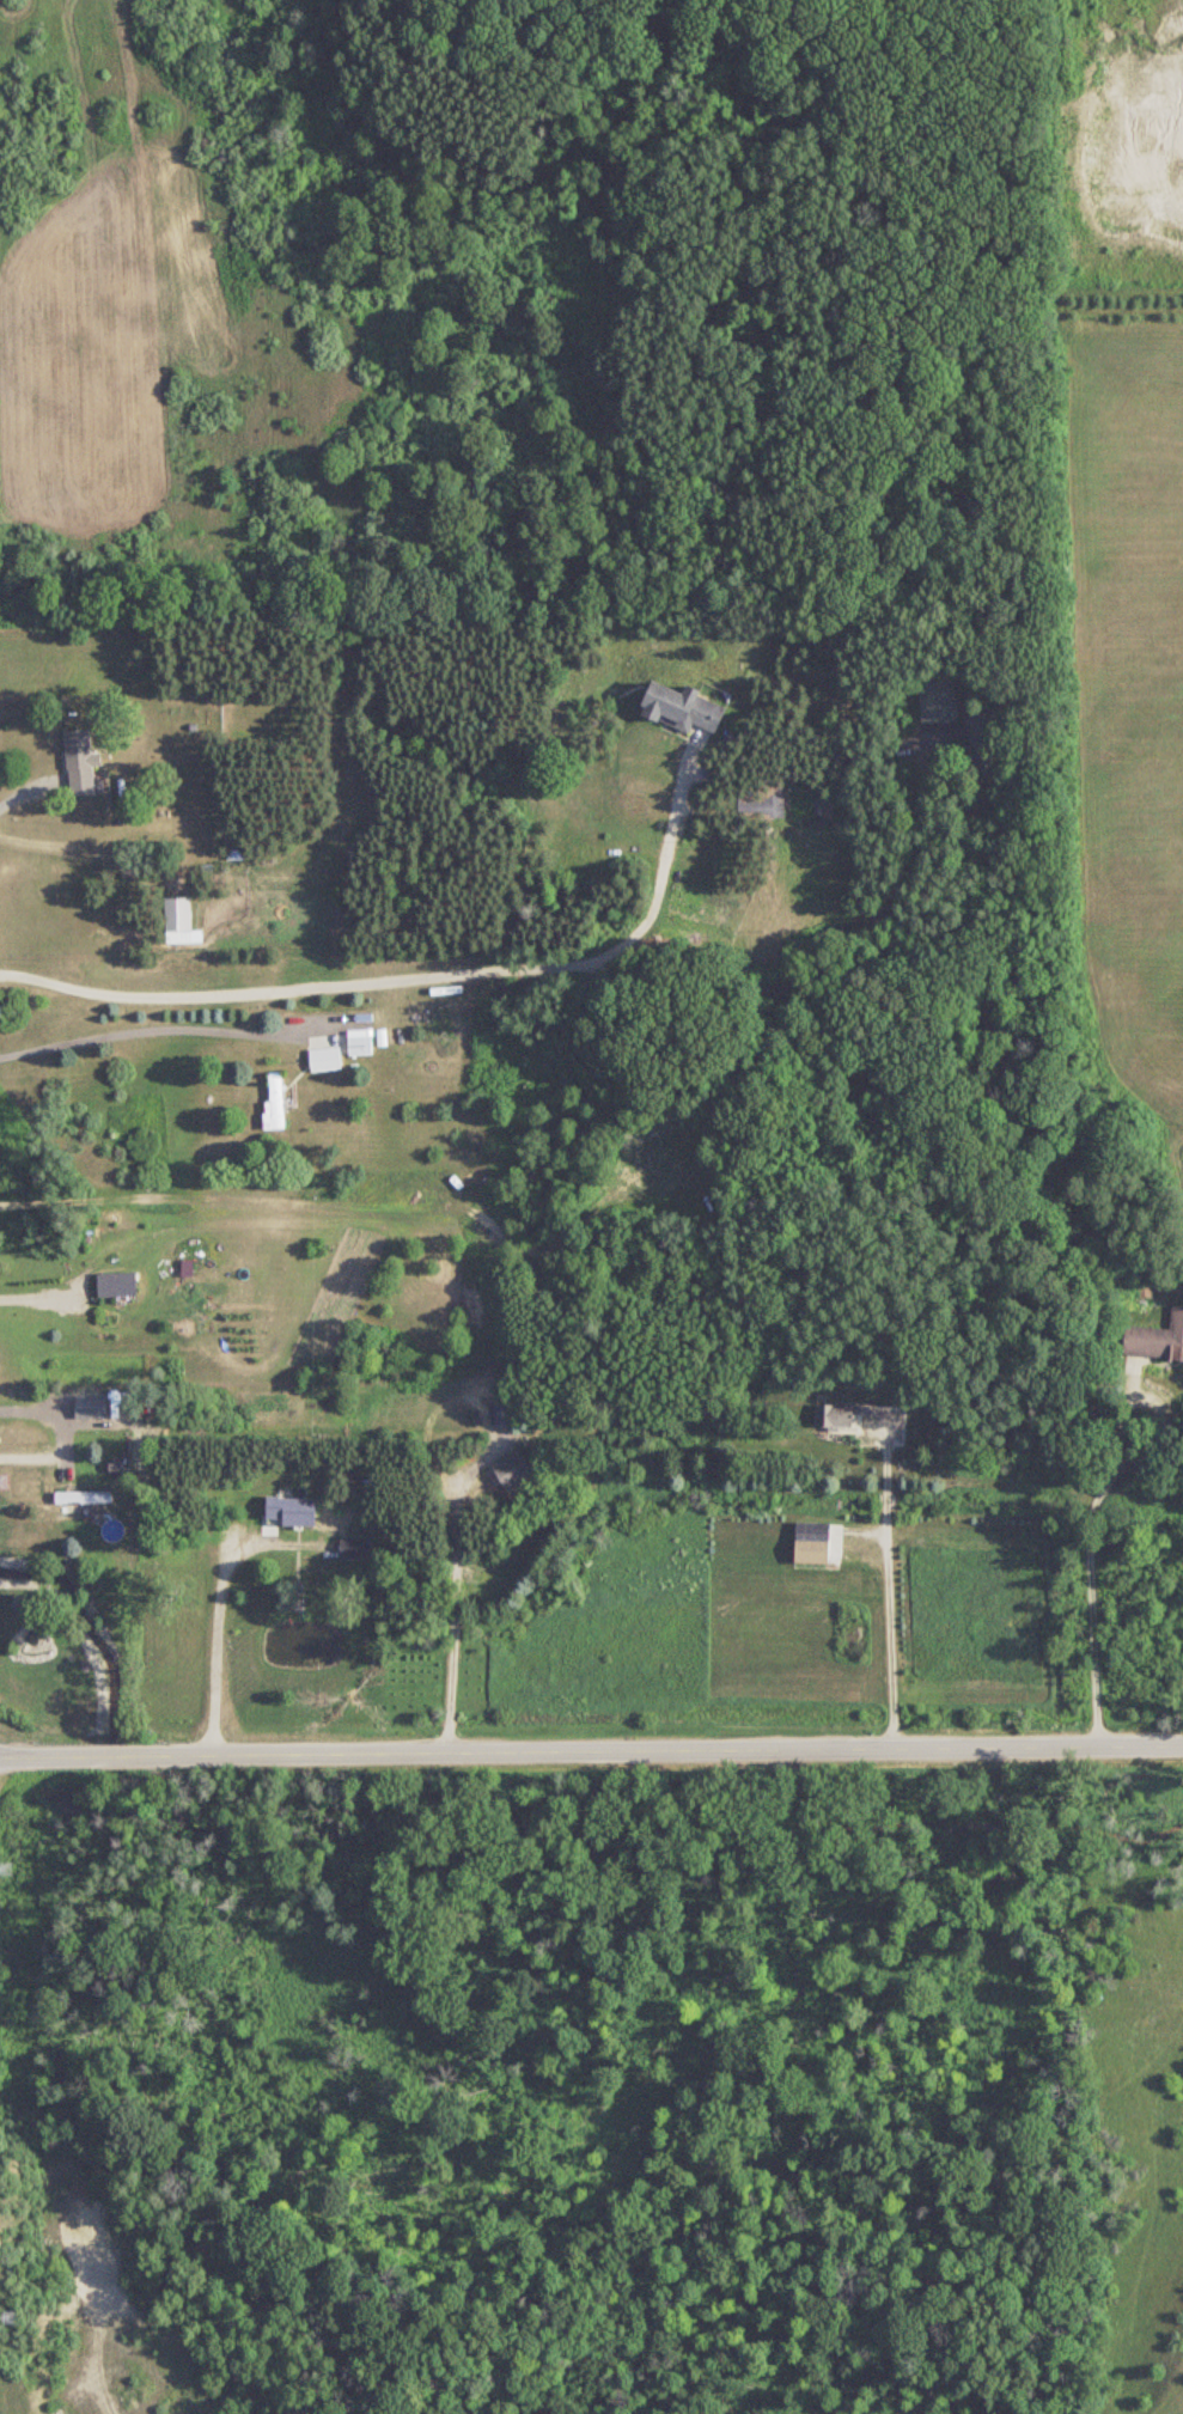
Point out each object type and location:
building: (938, 702)
building: (682, 709)
building: (984, 748)
building: (80, 763)
building: (772, 803)
building: (181, 922)
road: (823, 964)
road: (400, 971)
road: (144, 1022)
building: (360, 1042)
building: (325, 1060)
building: (275, 1101)
building: (117, 1285)
road: (44, 1297)
building: (1157, 1340)
building: (90, 1407)
building: (504, 1414)
building: (834, 1416)
road: (55, 1428)
building: (513, 1473)
power tower: (1, 1481)
building: (85, 1501)
building: (289, 1512)
building: (812, 1543)
building: (353, 1548)
road: (1089, 1554)
road: (884, 1592)
road: (450, 1619)
road: (218, 1626)
road: (664, 1747)
road: (45, 1748)
road: (117, 1748)
power tower: (6, 1869)
power tower: (7, 2317)

